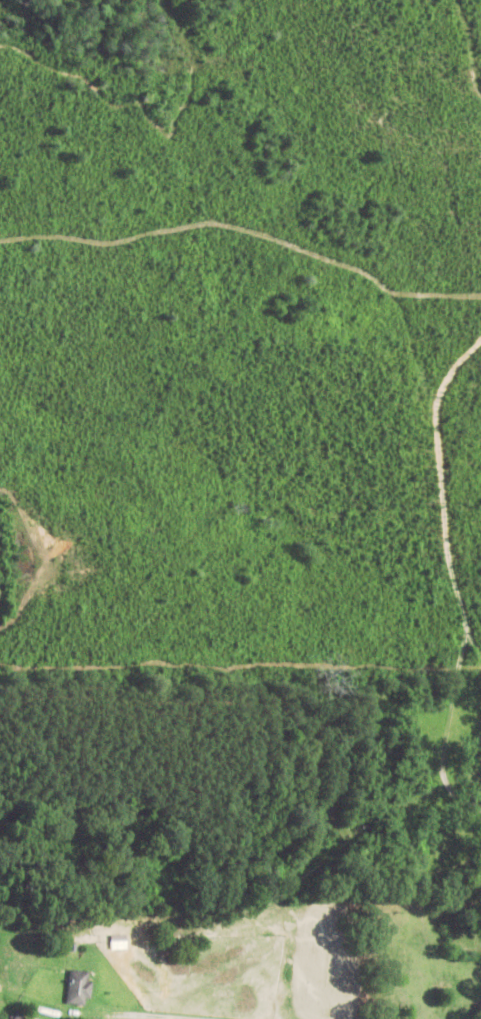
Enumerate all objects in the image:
road: (46, 869)
building: (79, 988)

